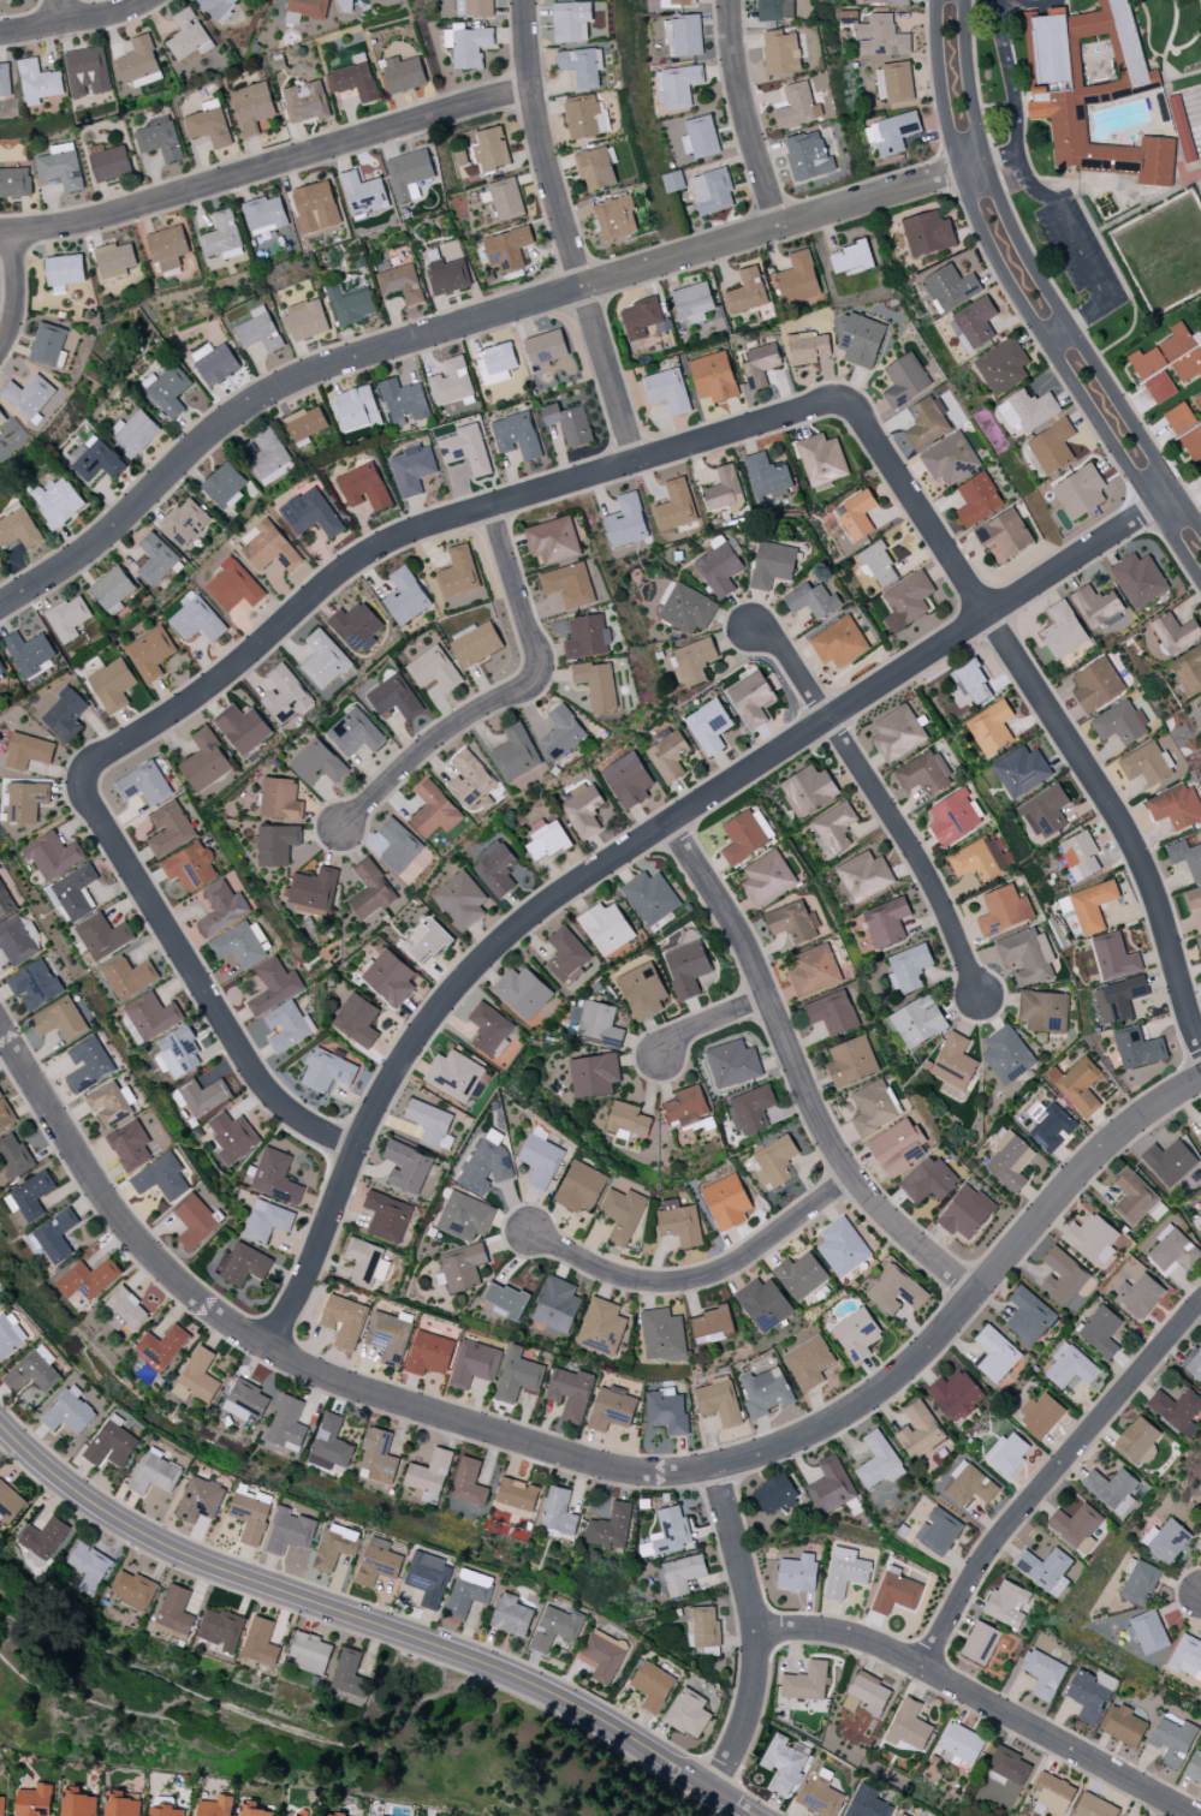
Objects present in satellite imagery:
building: (387, 1)
building: (884, 1)
building: (345, 5)
building: (218, 7)
building: (474, 7)
building: (304, 10)
building: (775, 10)
road: (63, 11)
road: (75, 20)
building: (571, 22)
building: (683, 35)
building: (188, 36)
building: (880, 36)
building: (466, 44)
building: (781, 52)
building: (138, 62)
building: (581, 66)
building: (87, 72)
building: (404, 73)
road: (1007, 76)
building: (4, 81)
building: (353, 81)
building: (37, 82)
building: (893, 83)
building: (676, 85)
building: (1090, 90)
building: (305, 102)
building: (251, 107)
building: (797, 107)
road: (745, 115)
building: (583, 118)
building: (209, 124)
building: (891, 132)
building: (1184, 132)
building: (700, 137)
building: (160, 138)
building: (490, 149)
building: (808, 156)
road: (1000, 157)
building: (108, 162)
building: (61, 166)
road: (267, 167)
building: (595, 168)
building: (409, 174)
building: (14, 181)
building: (672, 181)
building: (712, 191)
building: (363, 193)
building: (506, 198)
building: (315, 207)
building: (264, 214)
building: (614, 218)
building: (927, 233)
road: (566, 234)
building: (221, 237)
road: (1074, 243)
building: (507, 249)
building: (850, 258)
building: (114, 260)
building: (64, 272)
building: (446, 274)
building: (798, 279)
road: (1040, 280)
building: (400, 284)
building: (951, 287)
building: (747, 292)
road: (17, 296)
building: (692, 302)
building: (350, 304)
road: (1024, 308)
building: (642, 318)
building: (305, 321)
building: (973, 323)
road: (462, 326)
building: (258, 331)
building: (860, 339)
building: (47, 344)
building: (546, 346)
building: (808, 347)
building: (1182, 352)
building: (1146, 362)
building: (215, 363)
building: (495, 363)
building: (760, 364)
building: (1001, 367)
building: (713, 376)
building: (904, 380)
building: (451, 382)
building: (1160, 387)
building: (167, 389)
building: (666, 391)
building: (30, 397)
building: (1197, 401)
building: (404, 403)
building: (357, 409)
building: (1027, 410)
building: (1179, 417)
building: (1, 418)
building: (927, 422)
building: (569, 423)
building: (304, 424)
building: (133, 433)
building: (517, 435)
building: (1193, 442)
building: (1052, 446)
building: (465, 448)
building: (269, 457)
building: (950, 458)
building: (95, 459)
building: (821, 459)
building: (412, 469)
building: (767, 476)
building: (224, 486)
building: (363, 487)
building: (725, 490)
building: (1080, 492)
building: (977, 499)
building: (57, 501)
building: (676, 505)
building: (311, 513)
road: (460, 516)
building: (857, 516)
building: (626, 522)
building: (184, 523)
building: (18, 526)
building: (1005, 532)
building: (552, 540)
building: (269, 548)
building: (155, 559)
building: (876, 564)
building: (772, 565)
building: (720, 567)
building: (459, 571)
building: (1138, 579)
building: (234, 585)
building: (569, 585)
building: (112, 590)
building: (405, 596)
building: (813, 601)
building: (906, 601)
building: (1095, 606)
building: (685, 608)
building: (67, 618)
building: (196, 620)
building: (356, 626)
building: (1063, 630)
building: (1175, 632)
building: (587, 637)
building: (839, 642)
building: (475, 644)
building: (30, 654)
building: (149, 654)
building: (325, 660)
building: (692, 661)
road: (791, 668)
building: (433, 669)
building: (1188, 671)
building: (2, 672)
building: (971, 681)
building: (113, 684)
building: (597, 684)
building: (1096, 685)
building: (286, 695)
building: (394, 697)
road: (509, 697)
building: (751, 698)
building: (1199, 704)
building: (65, 714)
building: (1119, 724)
road: (1056, 725)
building: (708, 726)
building: (991, 727)
building: (242, 728)
building: (356, 733)
building: (563, 733)
building: (897, 733)
building: (28, 751)
building: (516, 754)
building: (667, 755)
building: (206, 761)
building: (316, 763)
building: (1147, 764)
building: (1021, 770)
building: (924, 773)
building: (470, 780)
building: (628, 780)
building: (143, 784)
building: (808, 790)
building: (279, 799)
building: (25, 802)
building: (1176, 806)
building: (434, 810)
building: (1045, 811)
building: (583, 812)
building: (953, 817)
building: (833, 828)
building: (170, 829)
building: (743, 838)
building: (546, 841)
building: (275, 844)
building: (398, 845)
road: (638, 845)
road: (914, 852)
building: (52, 855)
building: (1080, 855)
building: (1185, 857)
building: (977, 859)
building: (191, 867)
building: (495, 868)
building: (863, 876)
building: (767, 877)
building: (314, 888)
building: (370, 891)
building: (75, 892)
building: (650, 897)
building: (1193, 898)
building: (460, 900)
building: (6, 901)
building: (1092, 906)
building: (222, 909)
building: (1004, 910)
building: (792, 922)
building: (886, 922)
building: (606, 928)
building: (102, 935)
building: (17, 941)
building: (427, 941)
building: (239, 945)
building: (1199, 945)
building: (566, 955)
building: (1027, 955)
building: (1114, 958)
building: (685, 964)
road: (189, 965)
building: (909, 967)
building: (813, 970)
building: (129, 977)
building: (390, 977)
building: (35, 984)
building: (274, 986)
building: (642, 990)
building: (523, 992)
building: (1118, 999)
building: (1044, 1011)
building: (832, 1012)
building: (151, 1016)
building: (60, 1019)
building: (357, 1020)
road: (709, 1020)
building: (917, 1022)
building: (599, 1025)
building: (286, 1026)
building: (488, 1029)
building: (1137, 1048)
building: (178, 1052)
building: (1006, 1055)
building: (851, 1061)
building: (732, 1064)
building: (89, 1065)
building: (953, 1065)
building: (326, 1071)
building: (453, 1074)
building: (594, 1074)
road: (799, 1077)
building: (1077, 1085)
building: (202, 1096)
building: (111, 1103)
building: (686, 1106)
building: (873, 1108)
building: (750, 1109)
building: (5, 1113)
building: (626, 1120)
building: (428, 1123)
building: (1052, 1129)
building: (232, 1137)
building: (1199, 1138)
building: (130, 1145)
building: (897, 1148)
building: (14, 1155)
building: (541, 1159)
building: (774, 1161)
building: (1009, 1161)
building: (1169, 1162)
building: (486, 1166)
building: (406, 1167)
building: (275, 1177)
building: (162, 1178)
building: (928, 1180)
building: (581, 1186)
building: (32, 1195)
building: (1132, 1197)
building: (726, 1202)
building: (965, 1213)
building: (622, 1214)
building: (464, 1216)
building: (387, 1217)
building: (266, 1221)
building: (195, 1222)
building: (679, 1222)
building: (1197, 1225)
building: (55, 1236)
building: (1093, 1239)
building: (842, 1246)
building: (1172, 1249)
building: (365, 1262)
building: (242, 1264)
building: (463, 1267)
building: (801, 1276)
building: (1063, 1276)
road: (702, 1278)
building: (88, 1279)
building: (896, 1291)
building: (1140, 1296)
road: (974, 1298)
building: (505, 1300)
building: (763, 1304)
building: (557, 1305)
building: (1028, 1315)
building: (344, 1321)
building: (712, 1324)
building: (601, 1326)
building: (1100, 1330)
building: (661, 1334)
building: (856, 1334)
building: (390, 1335)
building: (10, 1336)
building: (160, 1347)
building: (429, 1353)
building: (995, 1353)
road: (287, 1358)
building: (809, 1362)
building: (1194, 1363)
building: (474, 1364)
building: (1070, 1365)
building: (32, 1371)
building: (518, 1375)
building: (197, 1377)
building: (765, 1392)
building: (570, 1393)
building: (956, 1394)
building: (245, 1399)
building: (720, 1400)
building: (611, 1409)
building: (666, 1411)
building: (1177, 1411)
building: (70, 1412)
building: (1040, 1415)
building: (287, 1424)
building: (918, 1430)
building: (1138, 1440)
building: (111, 1442)
building: (329, 1443)
building: (1007, 1453)
building: (377, 1458)
building: (879, 1461)
building: (154, 1473)
road: (1052, 1477)
building: (468, 1482)
building: (831, 1485)
building: (969, 1485)
building: (1112, 1489)
building: (517, 1494)
building: (774, 1494)
building: (200, 1499)
building: (8, 1505)
building: (558, 1512)
building: (611, 1526)
building: (1077, 1526)
building: (289, 1531)
building: (938, 1531)
building: (43, 1537)
building: (1166, 1540)
building: (335, 1547)
building: (1200, 1547)
building: (377, 1562)
building: (89, 1566)
building: (1046, 1570)
building: (845, 1572)
building: (797, 1573)
building: (678, 1574)
building: (429, 1578)
building: (1138, 1582)
building: (133, 1590)
building: (468, 1592)
building: (896, 1592)
building: (1007, 1603)
building: (174, 1613)
building: (511, 1615)
road: (373, 1623)
building: (703, 1626)
building: (555, 1627)
building: (220, 1629)
road: (756, 1630)
building: (1147, 1632)
building: (260, 1642)
building: (980, 1643)
building: (310, 1654)
building: (604, 1655)
building: (1187, 1657)
building: (1044, 1673)
building: (347, 1675)
building: (805, 1681)
building: (652, 1686)
building: (866, 1693)
building: (1090, 1695)
road: (982, 1699)
building: (688, 1713)
building: (909, 1726)
building: (1124, 1726)
building: (961, 1745)
building: (785, 1763)
building: (1009, 1766)
building: (1194, 1768)
building: (1053, 1794)
building: (32, 1800)
building: (77, 1803)
building: (867, 1803)
building: (1, 1804)
building: (121, 1804)
building: (216, 1806)
building: (1095, 1806)
building: (165, 1811)
building: (255, 1811)
building: (335, 1815)
building: (902, 1815)

